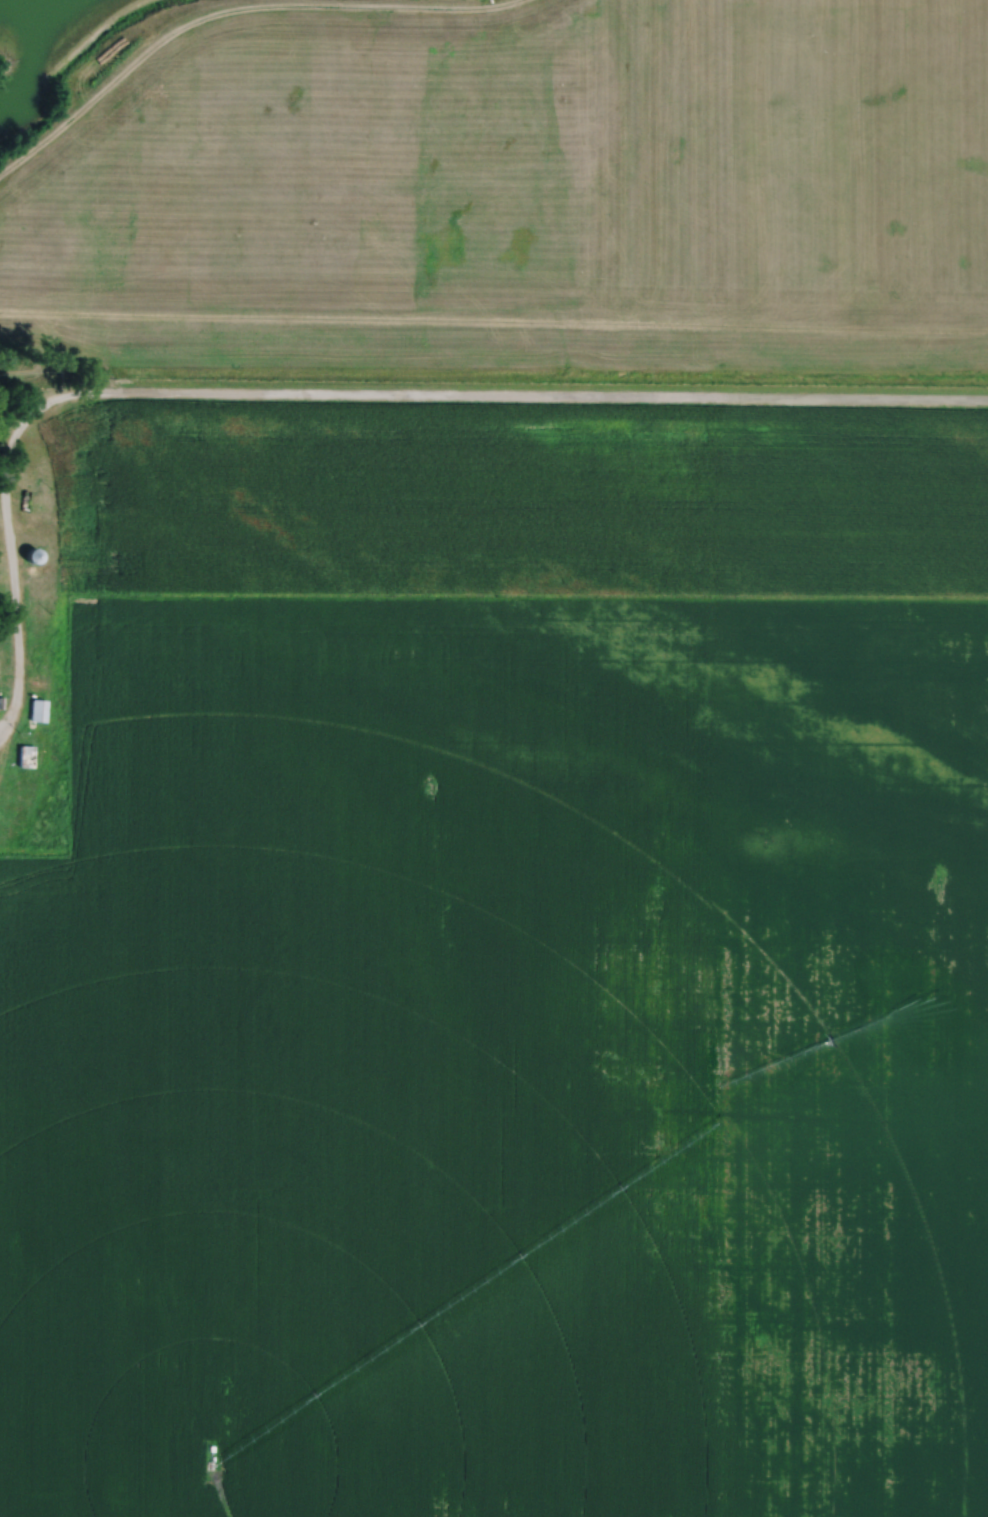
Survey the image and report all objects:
road: (231, 10)
road: (343, 395)
building: (32, 555)
building: (1, 702)
building: (37, 709)
building: (25, 755)
crop: (506, 970)

